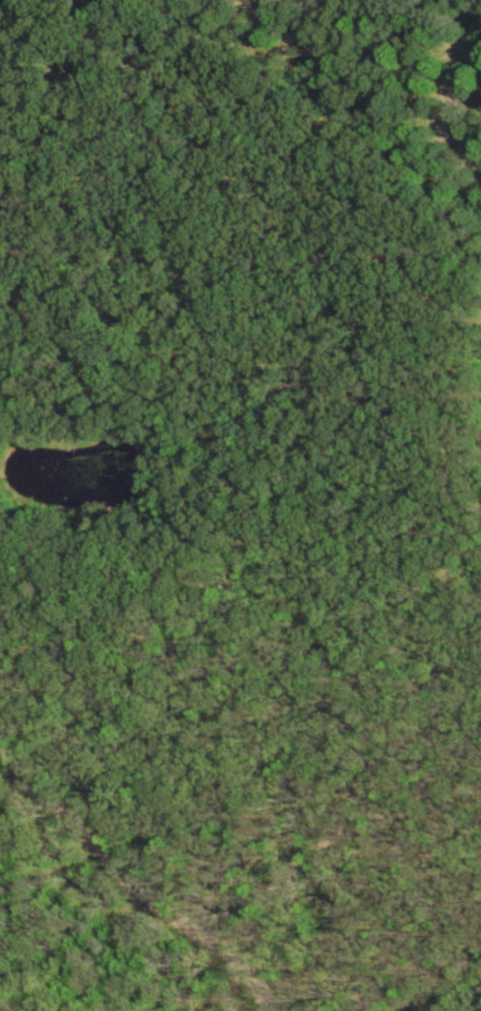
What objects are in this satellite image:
road: (469, 713)
road: (112, 804)
road: (351, 835)
road: (243, 967)

